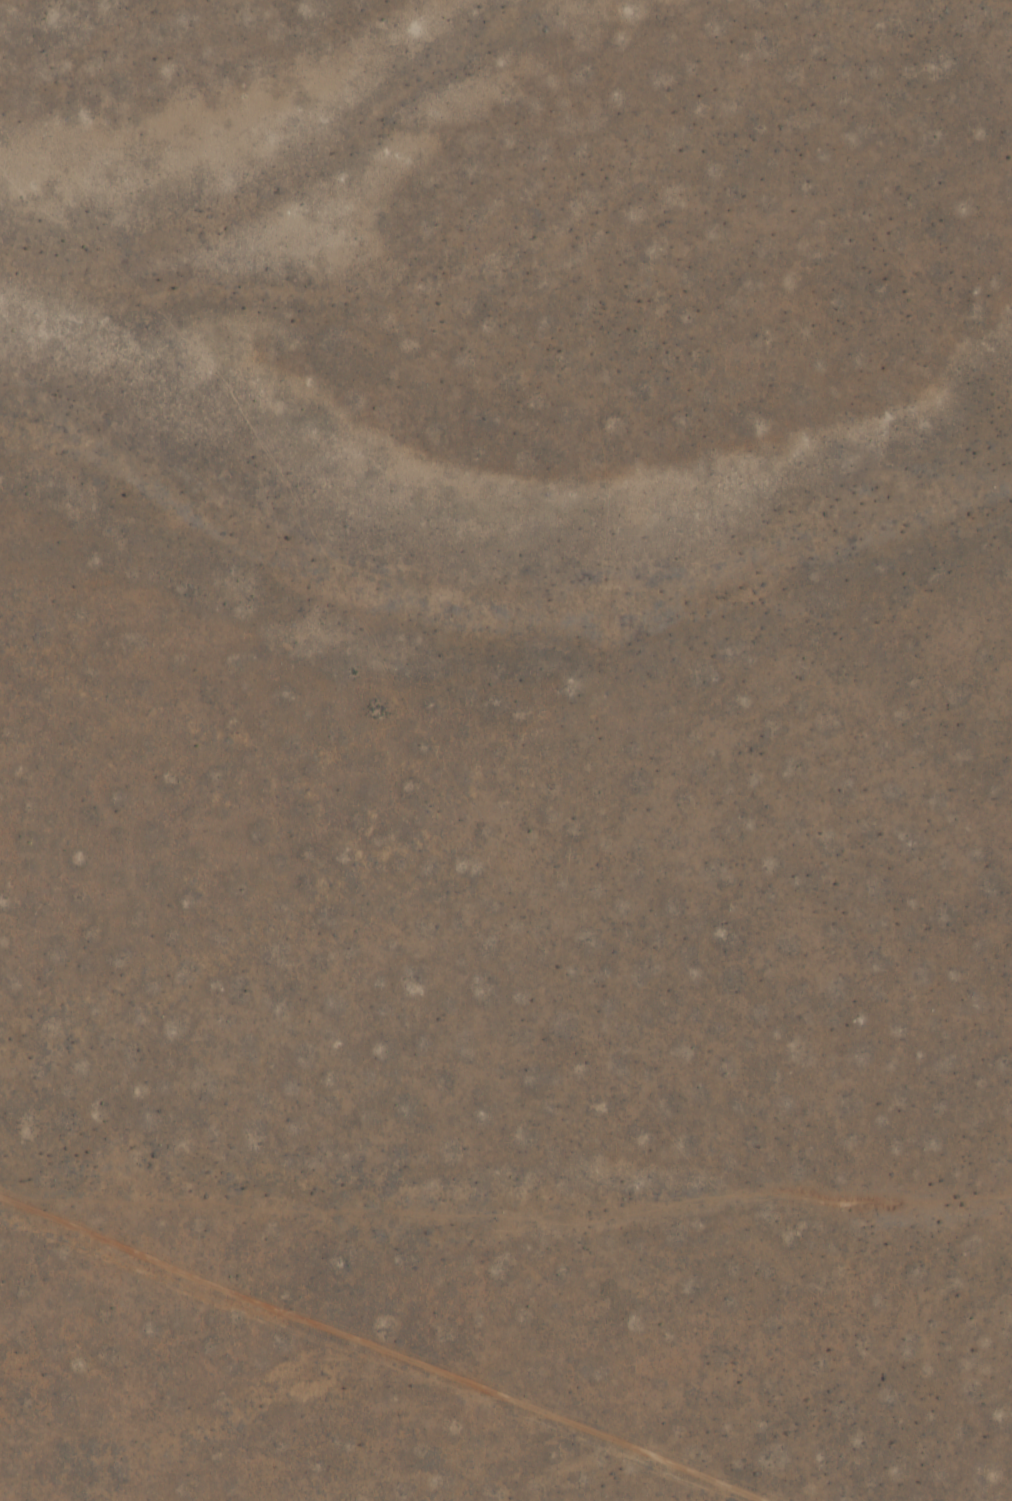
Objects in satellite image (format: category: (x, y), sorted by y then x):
road: (381, 1348)

